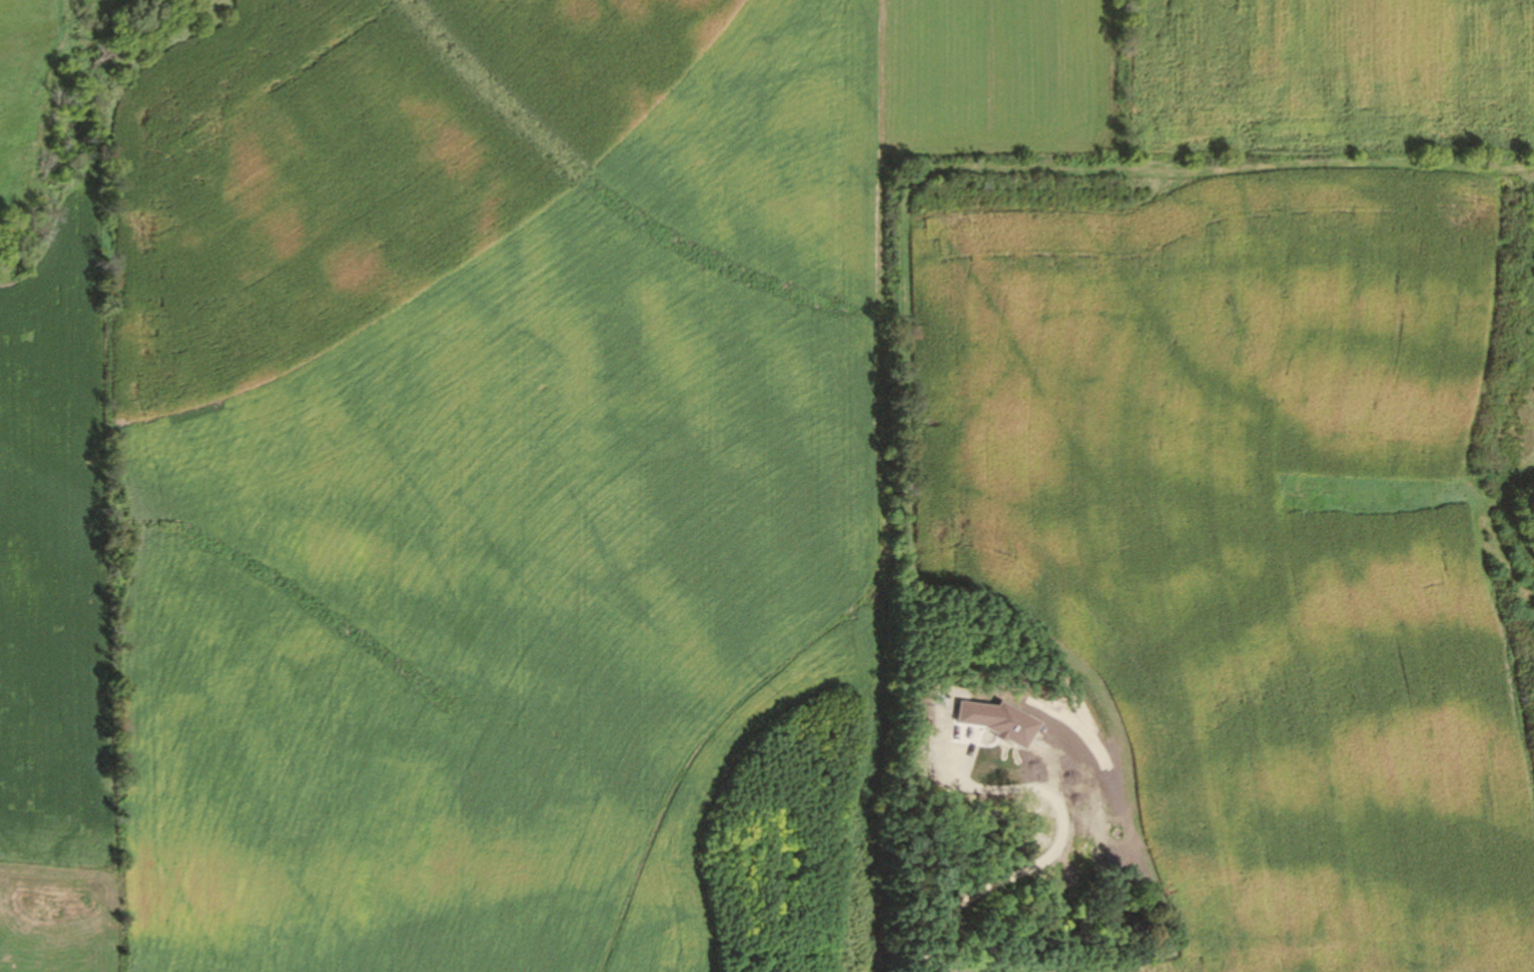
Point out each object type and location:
road: (887, 536)

